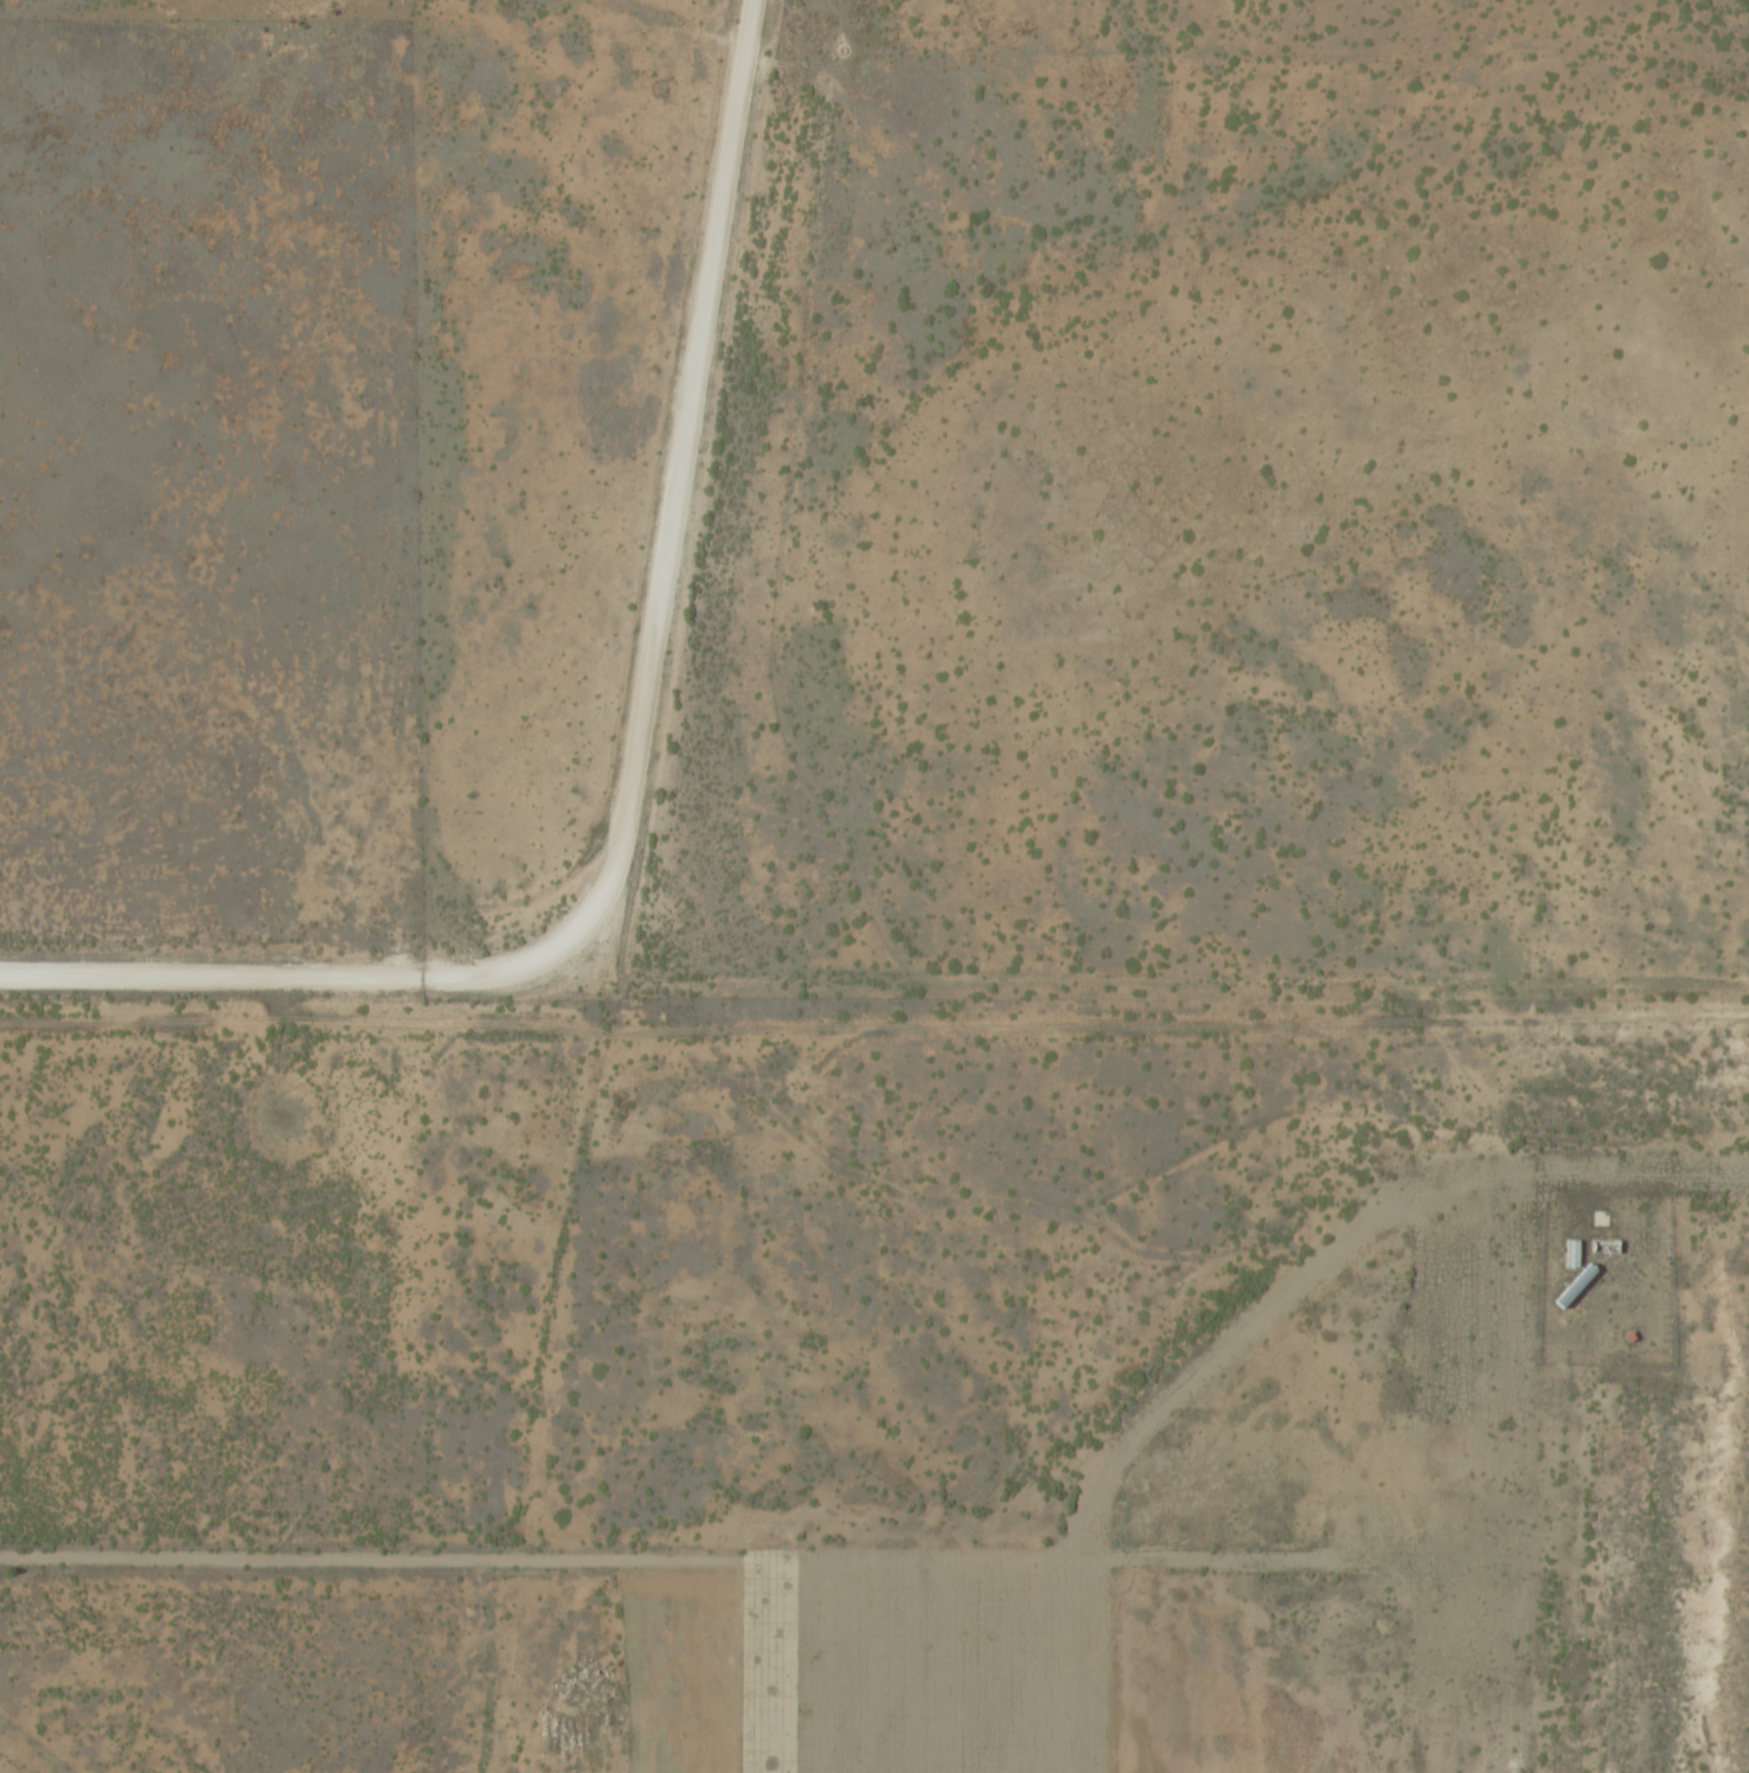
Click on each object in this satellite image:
road: (838, 38)
road: (750, 40)
road: (789, 79)
road: (634, 806)
road: (856, 948)
airport taxiway: (1347, 1236)
building: (1604, 1244)
building: (1570, 1252)
building: (1575, 1285)
road: (366, 1560)
airport apron: (924, 1659)

